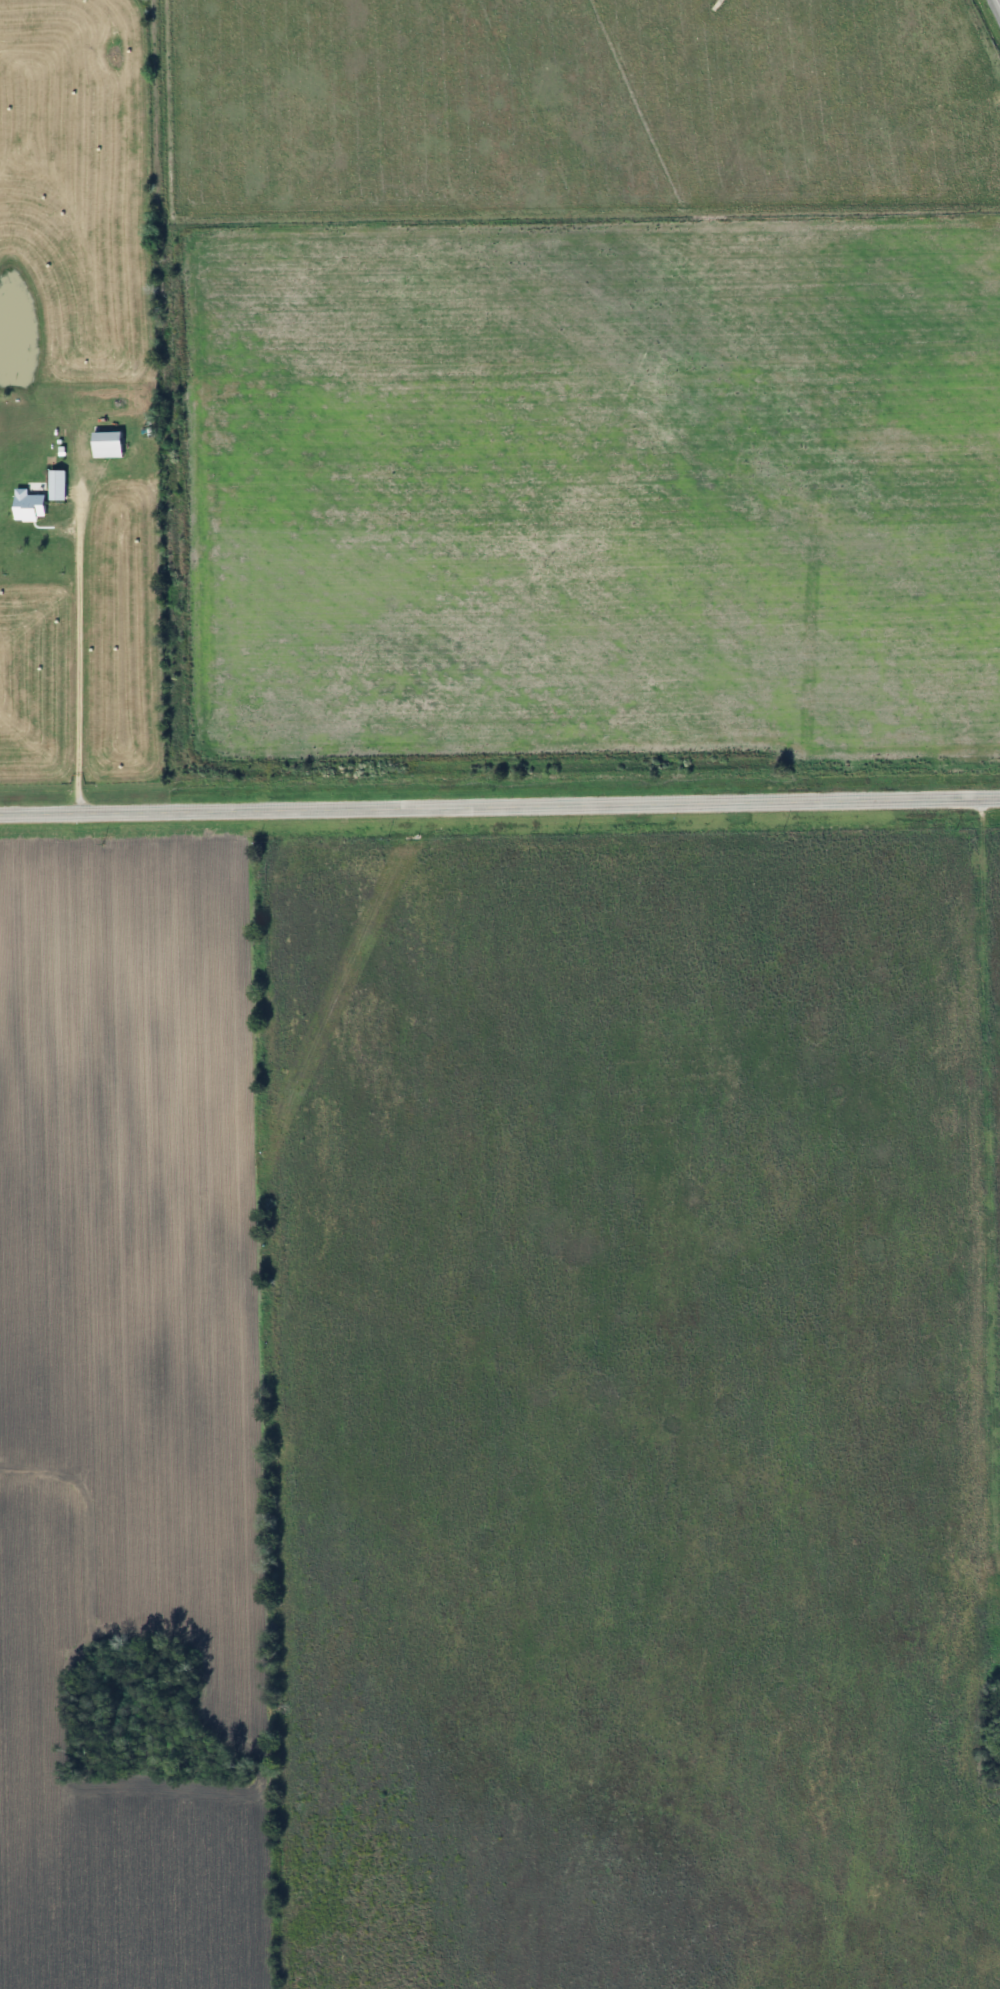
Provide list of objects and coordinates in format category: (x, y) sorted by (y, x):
building: (101, 444)
building: (52, 484)
building: (22, 505)
road: (73, 655)
road: (499, 806)

